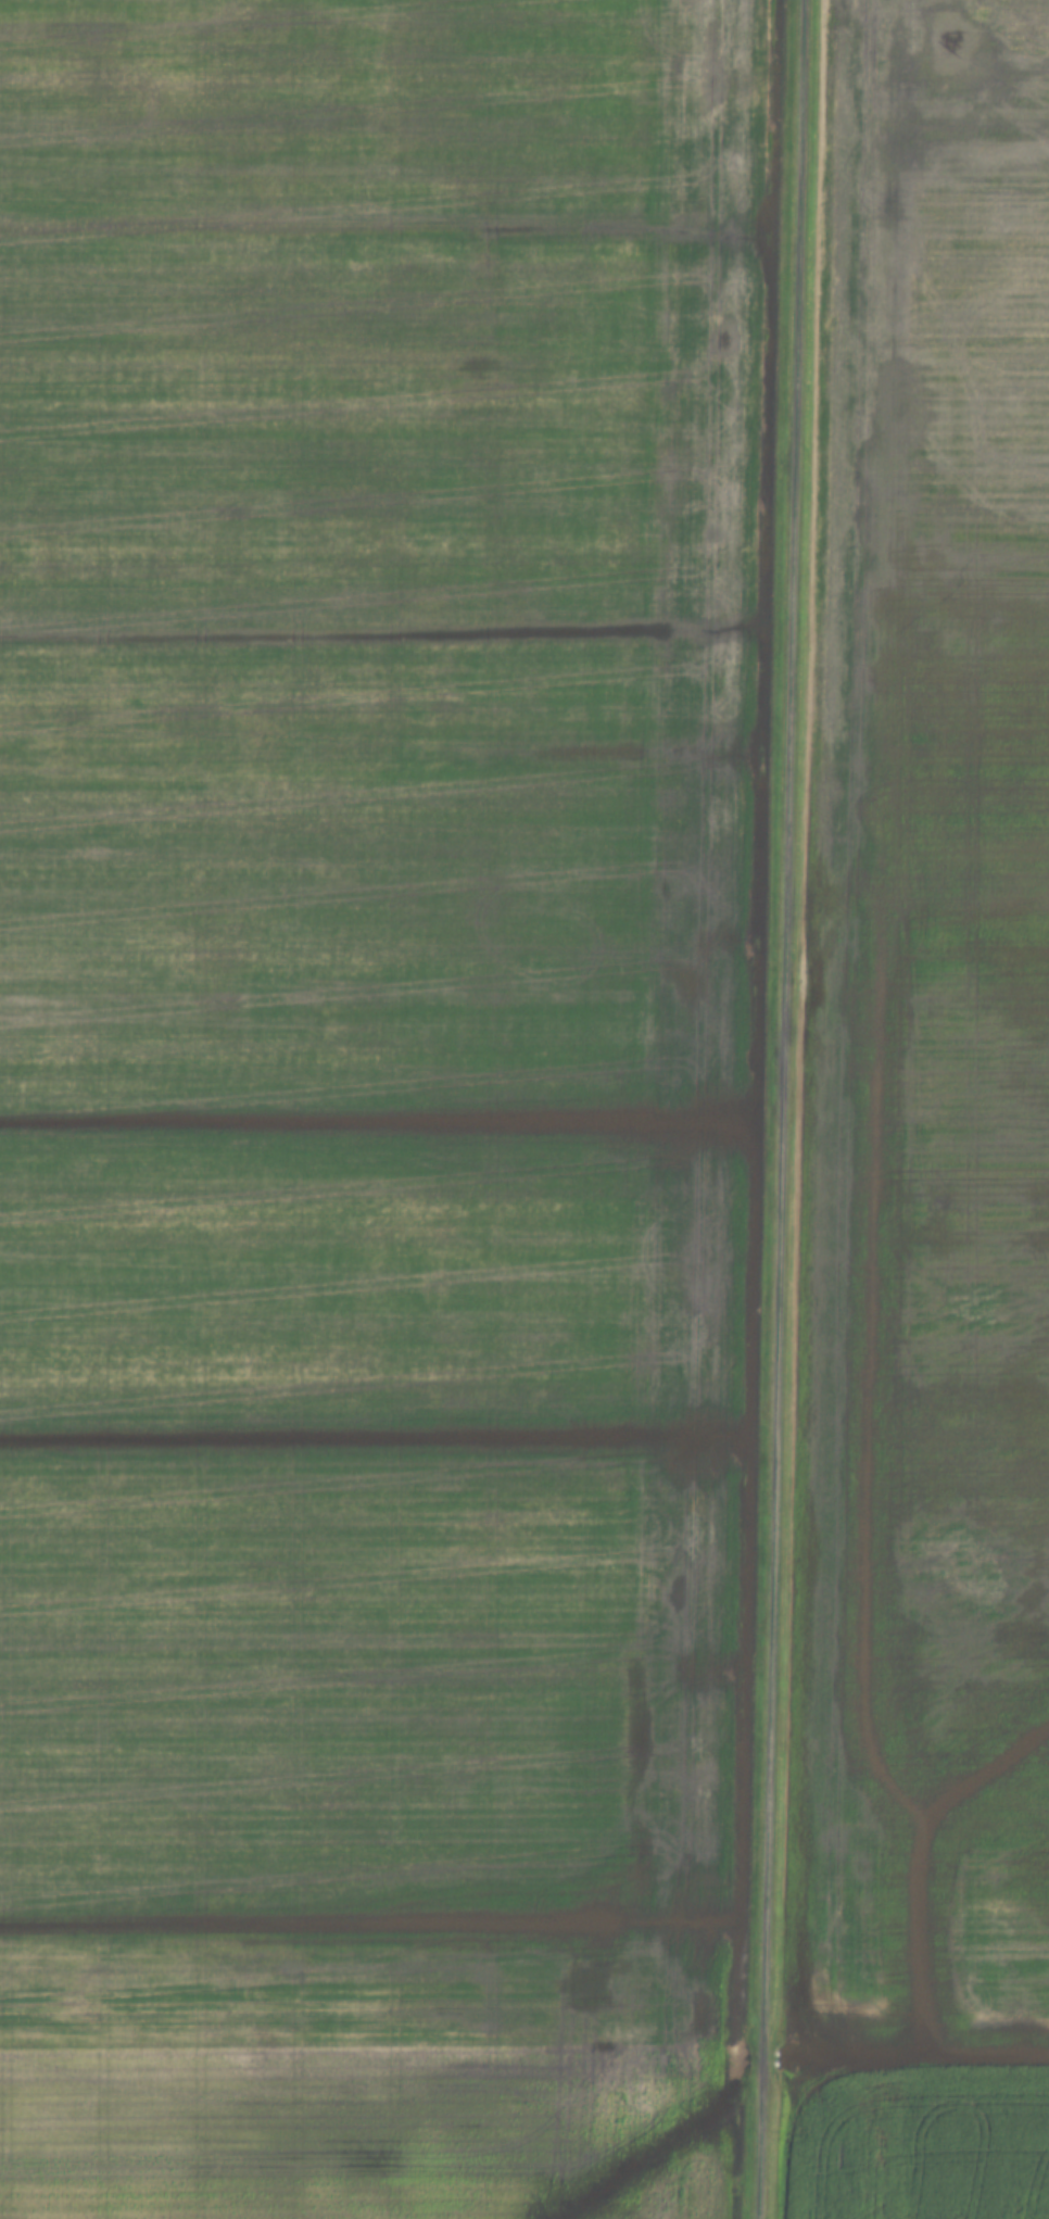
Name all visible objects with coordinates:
crop: (926, 1048)
crop: (372, 1098)
road: (779, 1109)
crop: (917, 2142)

